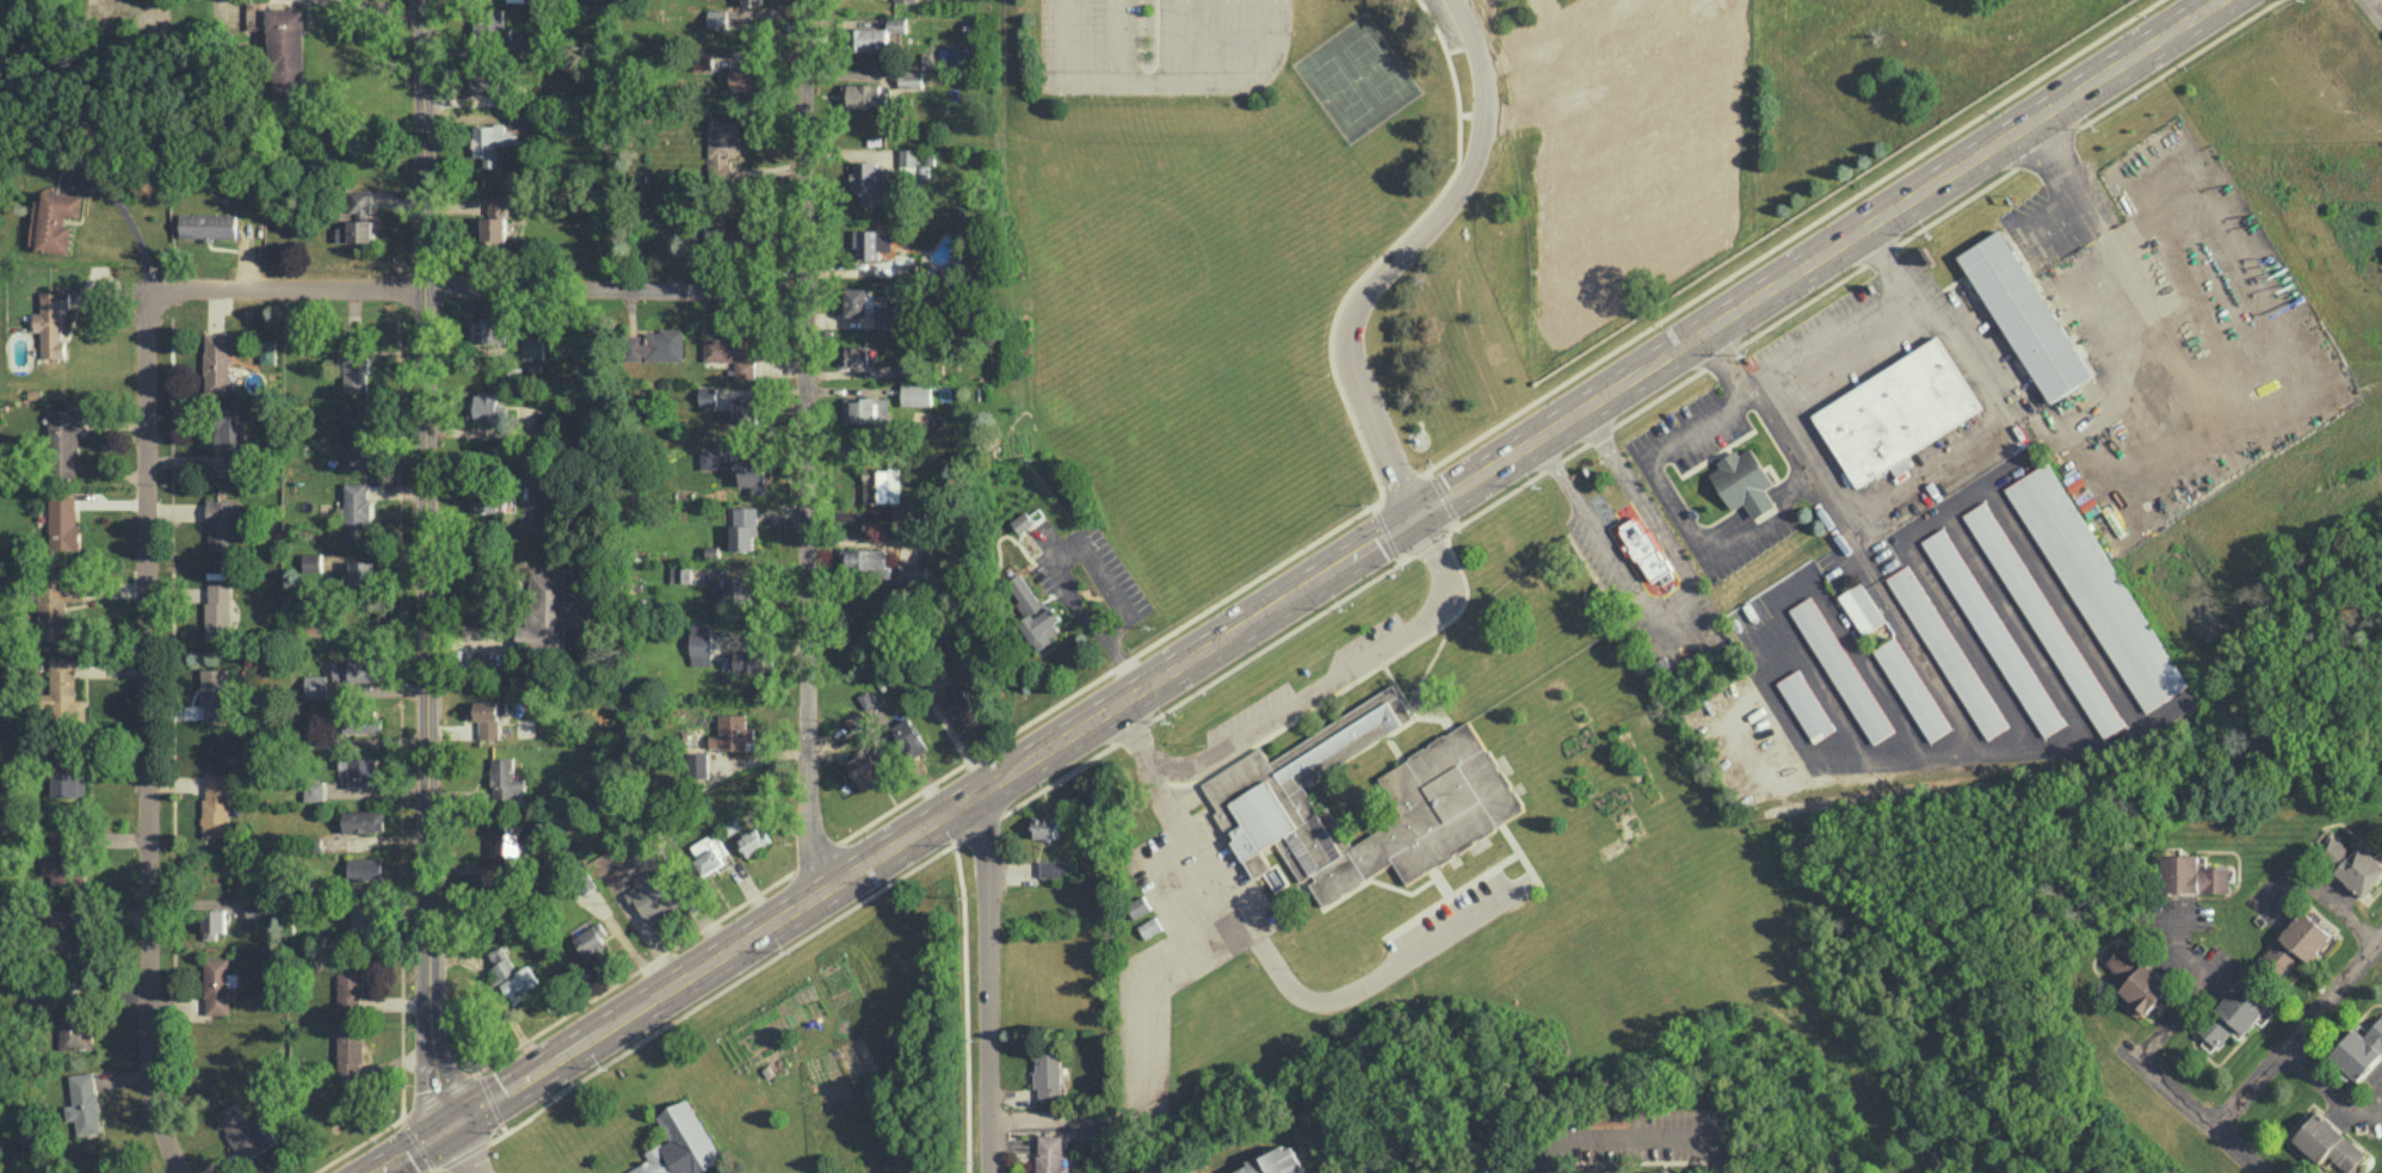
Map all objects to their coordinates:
building: (903, 0)
building: (752, 1)
road: (387, 6)
building: (717, 18)
building: (895, 24)
building: (489, 31)
building: (871, 38)
road: (1113, 42)
road: (1178, 42)
road: (1228, 42)
road: (1561, 44)
building: (283, 45)
parking lot: (1160, 48)
building: (703, 60)
park: (1374, 68)
building: (746, 78)
building: (909, 78)
road: (1606, 80)
building: (488, 82)
road: (1162, 84)
park: (1340, 92)
building: (865, 94)
building: (522, 117)
building: (492, 141)
building: (721, 147)
road: (1655, 152)
building: (908, 155)
road: (2065, 178)
building: (866, 180)
road: (1609, 181)
building: (358, 218)
building: (495, 218)
building: (57, 220)
road: (134, 221)
building: (209, 224)
building: (714, 228)
building: (870, 242)
road: (1397, 255)
road: (1818, 259)
road: (1641, 265)
road: (479, 289)
building: (856, 301)
building: (887, 316)
road: (1934, 319)
building: (2025, 320)
building: (53, 322)
building: (487, 329)
road: (2307, 340)
road: (2162, 344)
building: (655, 345)
building: (533, 346)
building: (733, 352)
building: (853, 354)
building: (216, 363)
building: (356, 363)
building: (914, 394)
building: (706, 396)
road: (2012, 401)
building: (489, 407)
building: (745, 409)
building: (870, 409)
building: (1895, 414)
road: (2057, 424)
road: (1685, 432)
building: (357, 437)
building: (64, 443)
road: (809, 445)
road: (1784, 446)
building: (751, 474)
road: (1915, 474)
building: (881, 483)
building: (1744, 486)
building: (357, 511)
building: (900, 511)
traffic signals: (1414, 518)
building: (1022, 520)
building: (64, 523)
building: (223, 524)
road: (492, 524)
building: (742, 527)
road: (1430, 545)
building: (865, 560)
road: (1054, 560)
building: (311, 561)
road: (430, 566)
building: (363, 573)
building: (680, 573)
building: (911, 573)
building: (2096, 586)
building: (736, 588)
building: (57, 603)
building: (1862, 607)
building: (218, 609)
building: (1032, 610)
building: (545, 611)
road: (1677, 615)
building: (2043, 618)
building: (1993, 631)
building: (699, 642)
building: (1946, 650)
building: (749, 660)
building: (1841, 668)
building: (356, 669)
building: (316, 685)
building: (1912, 689)
building: (62, 690)
road: (1314, 692)
building: (215, 693)
building: (865, 698)
building: (957, 703)
building: (1806, 704)
building: (489, 717)
building: (362, 724)
building: (732, 731)
road: (1134, 731)
building: (908, 736)
road: (147, 739)
building: (697, 765)
building: (864, 767)
building: (505, 779)
building: (69, 780)
building: (314, 790)
building: (1452, 795)
building: (216, 803)
building: (363, 820)
building: (1045, 826)
building: (508, 838)
building: (752, 840)
road: (1193, 840)
road: (889, 841)
building: (708, 852)
building: (63, 862)
road: (634, 864)
building: (2353, 864)
building: (1053, 868)
building: (364, 869)
building: (2192, 875)
building: (653, 894)
road: (2327, 897)
building: (1137, 906)
building: (365, 921)
building: (214, 922)
building: (1150, 926)
building: (74, 932)
building: (591, 940)
building: (2295, 943)
building: (513, 974)
road: (988, 976)
road: (1372, 978)
building: (2137, 981)
building: (216, 984)
building: (350, 988)
building: (2235, 1012)
road: (2167, 1024)
building: (74, 1031)
building: (2359, 1050)
building: (350, 1052)
road: (2277, 1057)
road: (1146, 1063)
building: (1048, 1074)
road: (2327, 1092)
building: (84, 1103)
building: (1606, 1117)
building: (241, 1130)
building: (2, 1131)
road: (1629, 1134)
building: (2328, 1142)
building: (680, 1143)
road: (453, 1152)
building: (1050, 1154)
building: (1276, 1161)
building: (1659, 1171)
building: (1600, 1172)

